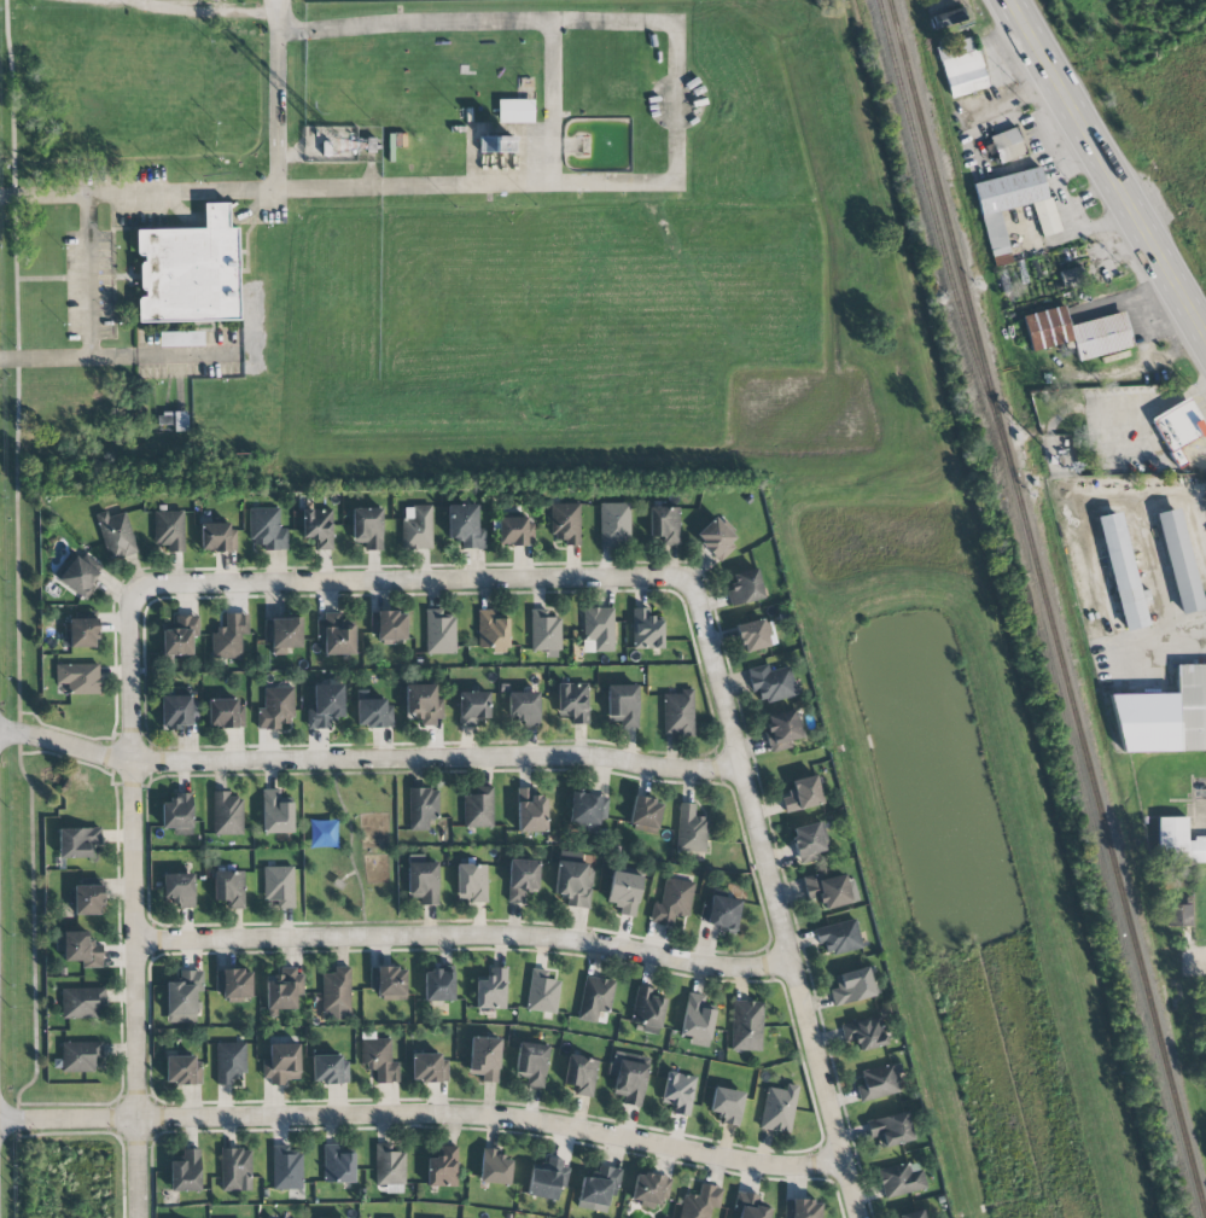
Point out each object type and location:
road: (208, 6)
road: (282, 8)
road: (276, 18)
building: (948, 18)
road: (480, 24)
building: (961, 68)
road: (549, 104)
road: (995, 104)
building: (515, 111)
building: (495, 144)
building: (1007, 145)
road: (1109, 169)
road: (336, 190)
building: (1013, 205)
railway: (934, 217)
road: (1077, 232)
building: (190, 272)
building: (1072, 275)
road: (87, 278)
building: (1047, 328)
building: (1100, 336)
building: (180, 339)
road: (156, 359)
building: (173, 420)
building: (1178, 429)
building: (565, 523)
building: (614, 524)
building: (664, 524)
building: (317, 526)
building: (465, 526)
building: (367, 528)
building: (416, 528)
building: (266, 529)
building: (169, 531)
building: (514, 531)
building: (116, 535)
building: (216, 537)
building: (716, 538)
building: (1178, 561)
building: (1121, 571)
building: (75, 575)
road: (404, 583)
building: (745, 588)
railway: (1047, 606)
building: (388, 625)
building: (598, 629)
building: (646, 630)
building: (491, 631)
building: (544, 631)
building: (82, 633)
building: (439, 633)
building: (282, 634)
building: (336, 634)
building: (179, 635)
building: (752, 635)
building: (229, 636)
road: (1175, 658)
building: (78, 678)
building: (770, 683)
building: (572, 701)
building: (423, 704)
building: (623, 704)
building: (325, 705)
building: (472, 707)
building: (524, 707)
building: (275, 709)
building: (175, 711)
building: (371, 711)
building: (677, 712)
building: (225, 713)
building: (1164, 716)
building: (781, 730)
road: (367, 758)
building: (802, 794)
building: (423, 808)
building: (478, 808)
building: (587, 810)
building: (530, 811)
building: (275, 812)
building: (645, 812)
building: (227, 814)
building: (177, 815)
building: (691, 831)
building: (77, 843)
building: (808, 843)
building: (1178, 843)
building: (522, 879)
building: (423, 881)
building: (471, 882)
building: (573, 884)
building: (279, 886)
building: (229, 887)
building: (179, 888)
building: (827, 891)
building: (624, 892)
road: (769, 897)
building: (86, 899)
building: (672, 902)
road: (132, 904)
building: (1178, 911)
building: (721, 913)
road: (460, 936)
building: (839, 937)
building: (80, 949)
road: (1190, 963)
building: (389, 981)
building: (233, 983)
building: (438, 986)
building: (851, 986)
building: (491, 989)
building: (284, 990)
building: (542, 991)
building: (336, 995)
building: (182, 997)
building: (594, 998)
building: (81, 1002)
building: (647, 1010)
building: (697, 1018)
building: (746, 1025)
building: (864, 1033)
building: (80, 1056)
building: (484, 1059)
building: (379, 1060)
building: (231, 1062)
building: (281, 1063)
building: (531, 1063)
building: (429, 1068)
building: (330, 1070)
building: (182, 1071)
building: (581, 1074)
building: (628, 1080)
building: (878, 1082)
building: (678, 1092)
building: (727, 1105)
building: (779, 1108)
road: (424, 1114)
building: (890, 1130)
building: (337, 1165)
building: (389, 1166)
building: (286, 1167)
building: (494, 1167)
building: (442, 1169)
building: (234, 1170)
building: (186, 1172)
building: (546, 1179)
building: (901, 1179)
building: (598, 1188)
building: (649, 1190)
building: (700, 1202)
building: (750, 1206)
building: (802, 1208)
building: (911, 1214)

